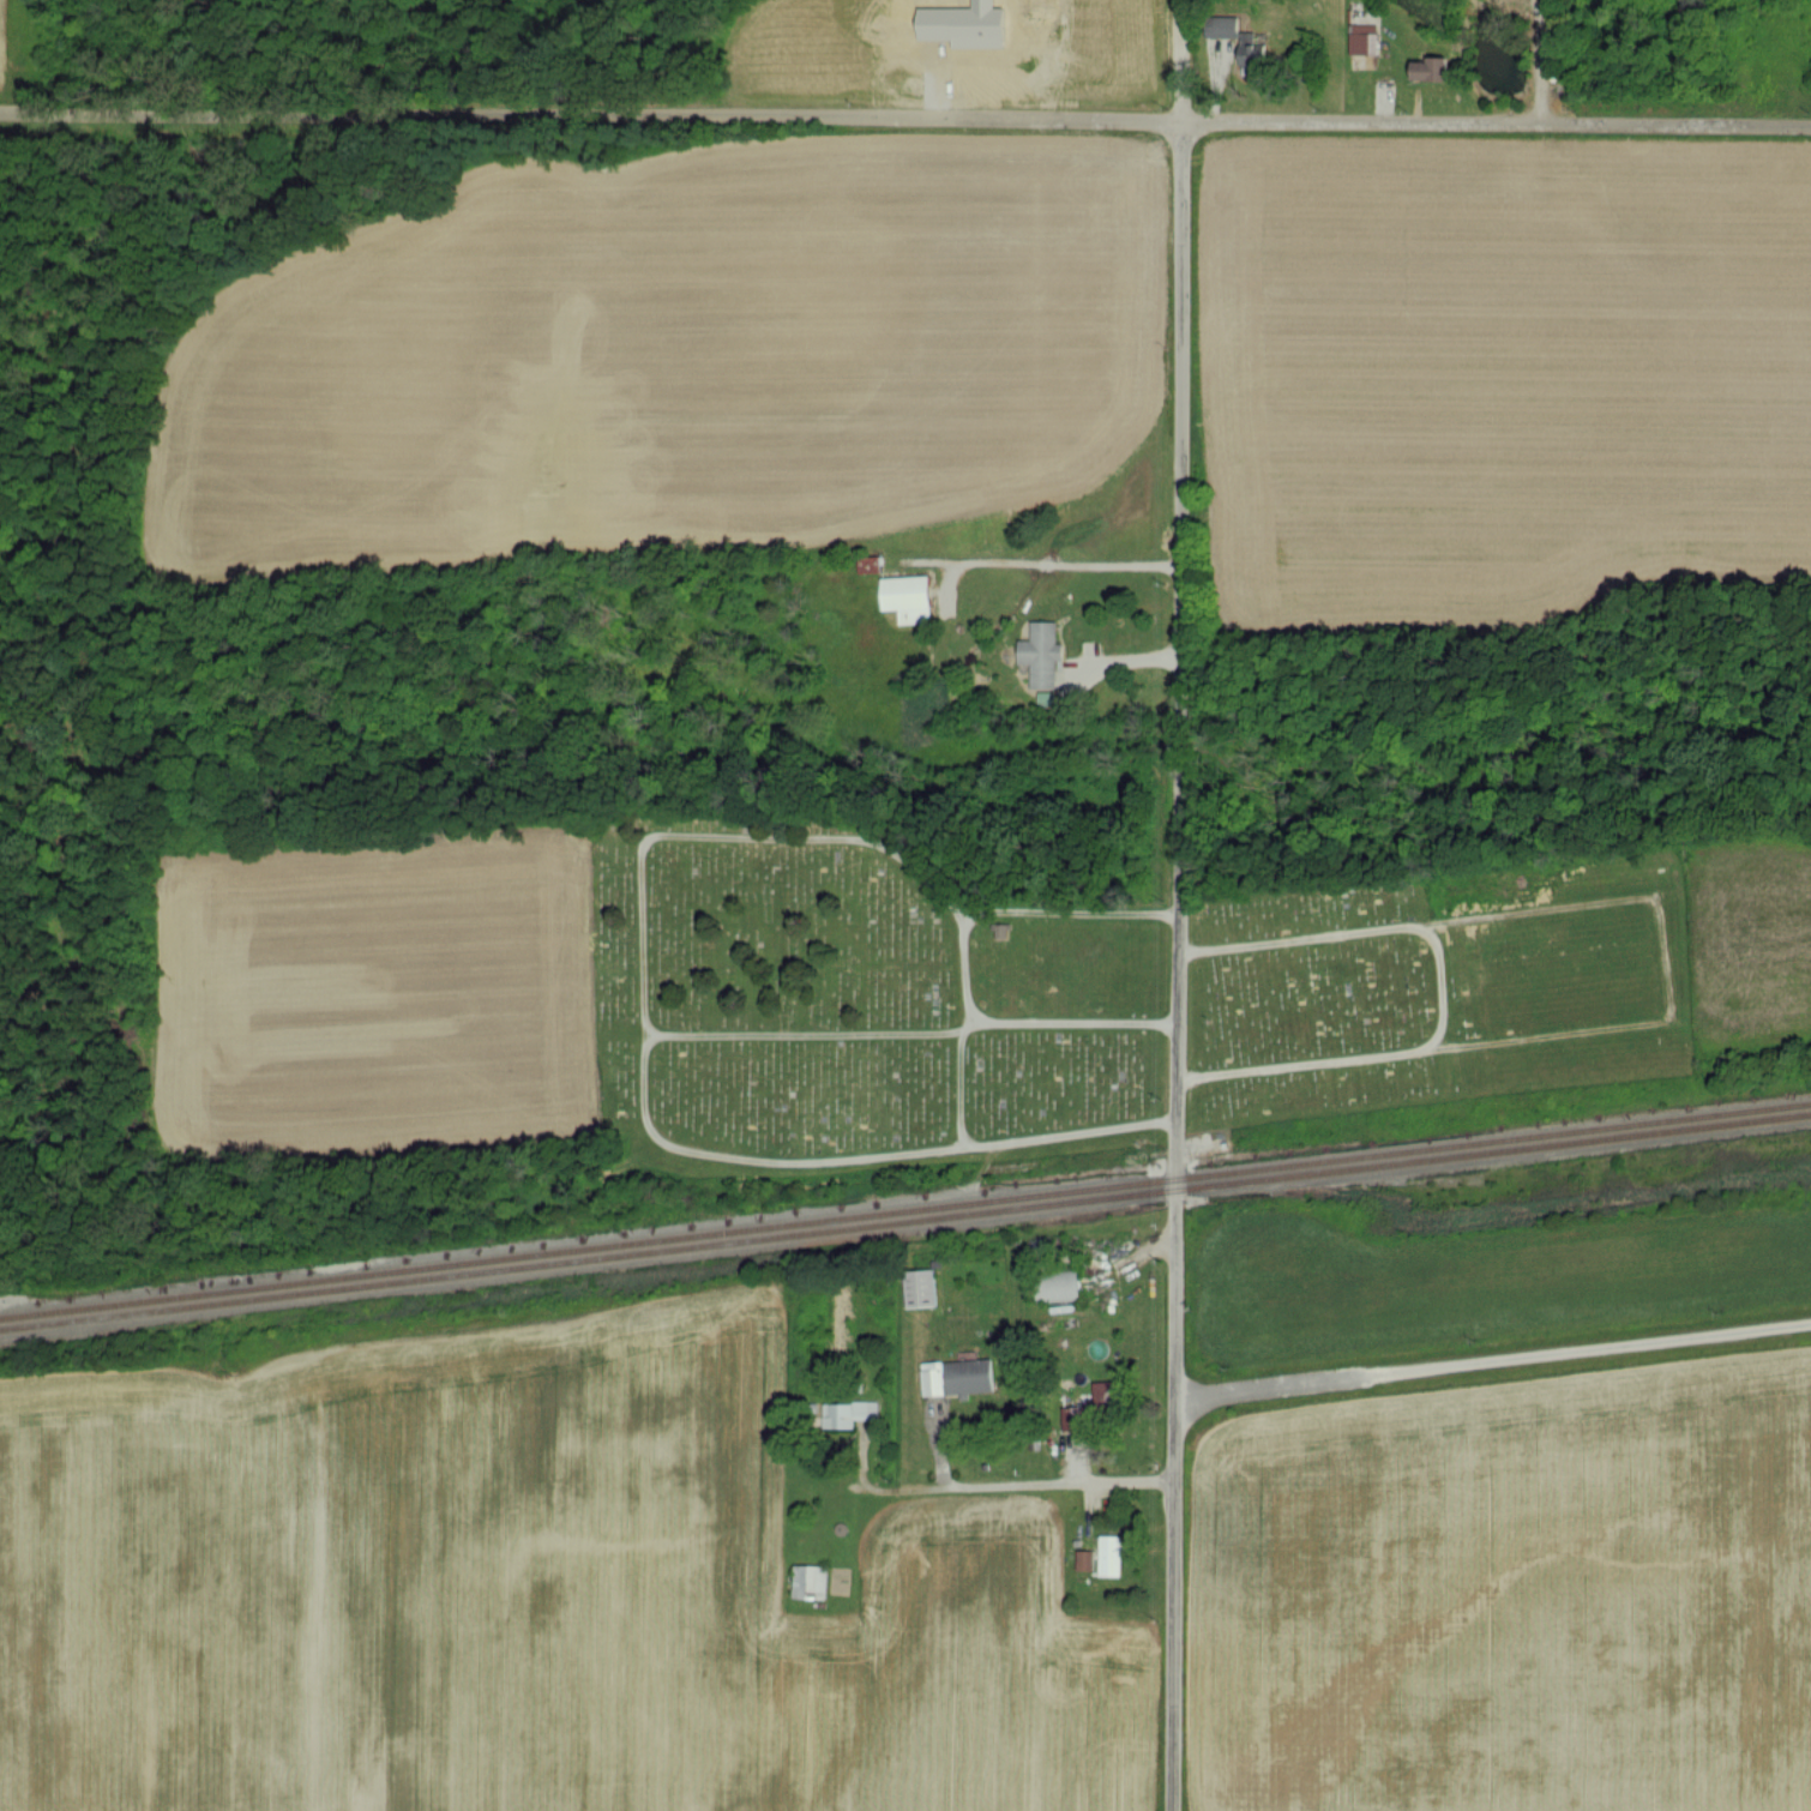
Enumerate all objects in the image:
building: (1362, 42)
building: (1251, 52)
road: (1184, 60)
building: (1428, 67)
road: (904, 115)
crop: (1498, 380)
road: (1067, 570)
building: (907, 596)
building: (1040, 652)
road: (1070, 913)
crop: (1752, 941)
road: (1177, 964)
road: (1440, 988)
park: (1443, 989)
crop: (371, 994)
park: (853, 1006)
road: (645, 1021)
road: (911, 1031)
road: (959, 1087)
railway: (904, 1210)
railway: (904, 1221)
building: (1058, 1284)
building: (919, 1287)
road: (1492, 1362)
building: (956, 1376)
building: (1102, 1390)
building: (847, 1410)
building: (1071, 1416)
road: (1005, 1486)
building: (1109, 1553)

